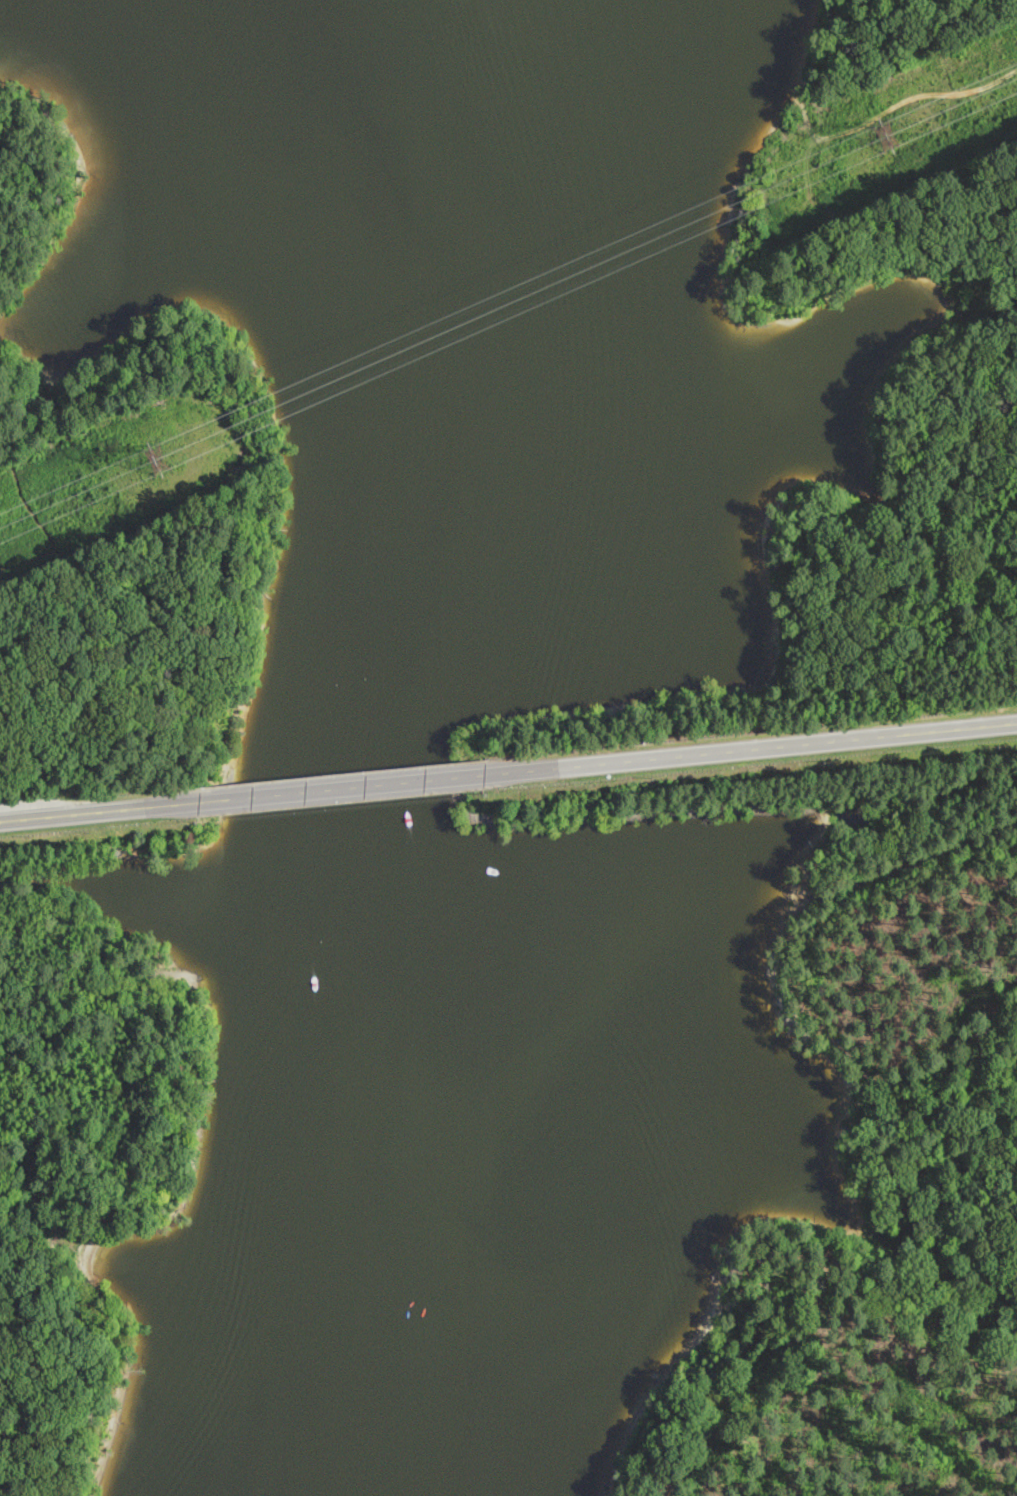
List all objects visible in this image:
river: (307, 104)
power tower: (889, 137)
road: (122, 643)
road: (754, 747)
road: (342, 788)
road: (101, 811)
road: (5, 820)
river: (367, 871)

